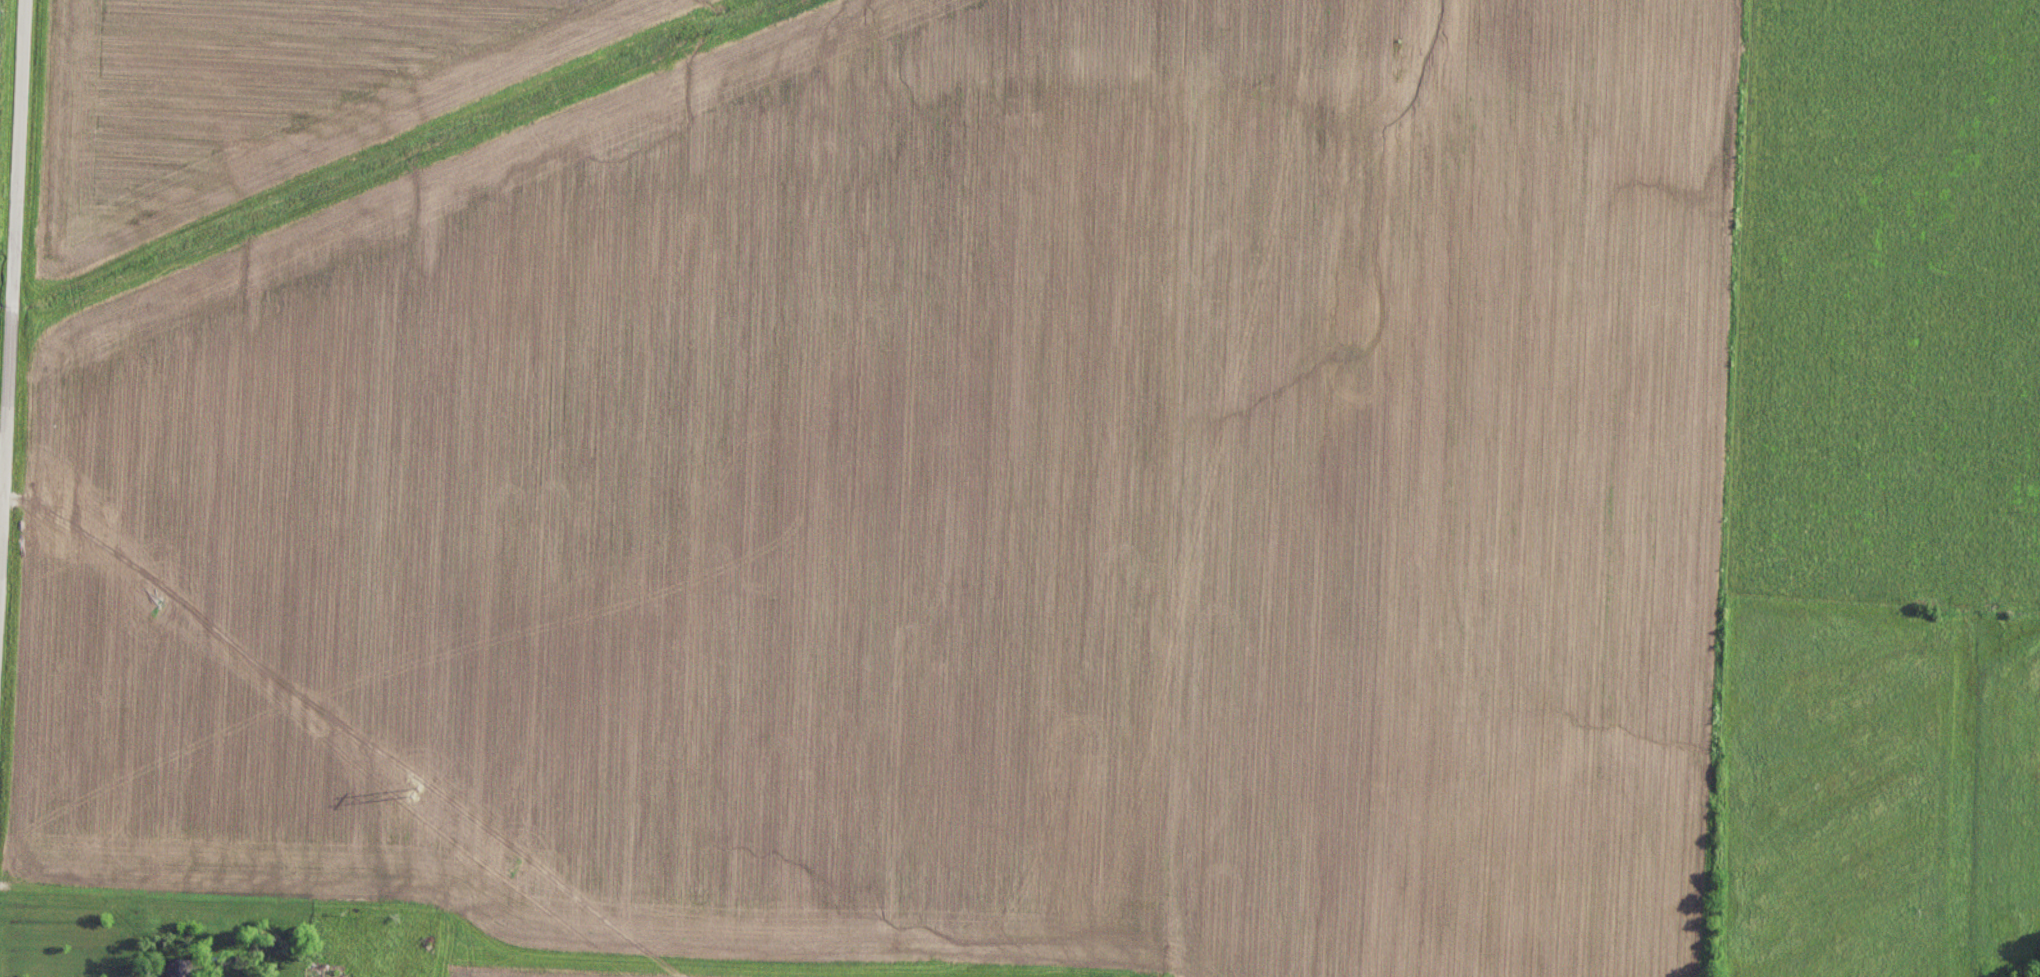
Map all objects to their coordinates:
road: (12, 286)
building: (177, 967)
building: (322, 972)

